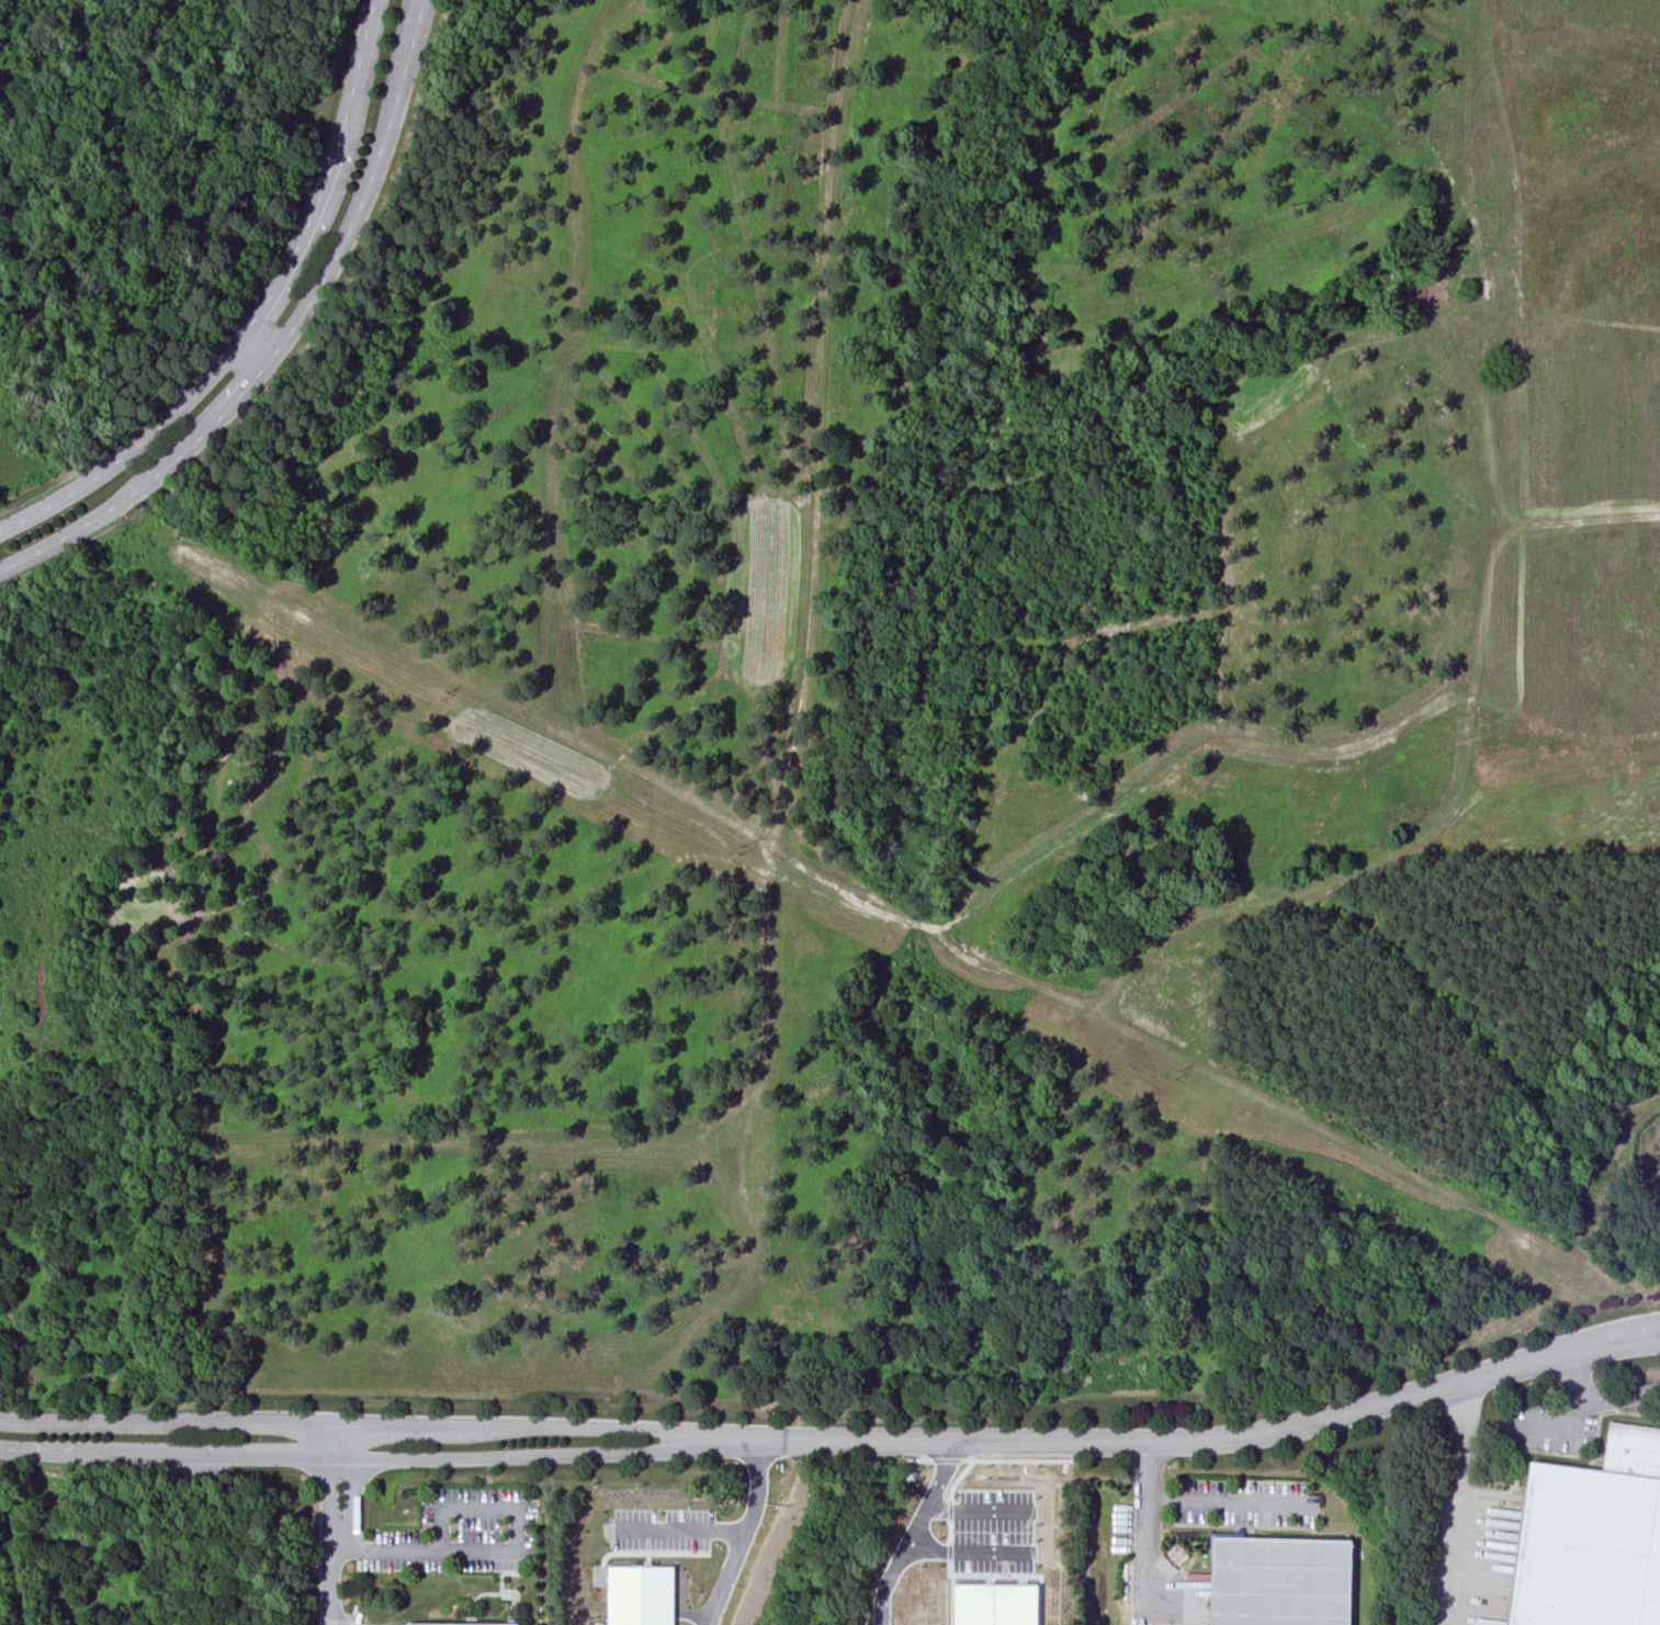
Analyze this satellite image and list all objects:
road: (257, 316)
road: (284, 339)
road: (251, 354)
power tower: (121, 529)
power tower: (444, 695)
power tower: (743, 851)
power tower: (1177, 1074)
power tower: (1616, 1299)
road: (1637, 1331)
road: (1638, 1342)
road: (1578, 1379)
road: (1589, 1406)
road: (361, 1426)
road: (335, 1441)
road: (1175, 1445)
road: (361, 1456)
road: (1232, 1501)
road: (1459, 1503)
road: (682, 1530)
road: (914, 1532)
road: (744, 1535)
road: (1148, 1535)
building: (1593, 1537)
road: (331, 1539)
road: (508, 1550)
building: (1281, 1582)
building: (641, 1595)
building: (995, 1604)
building: (463, 1624)

